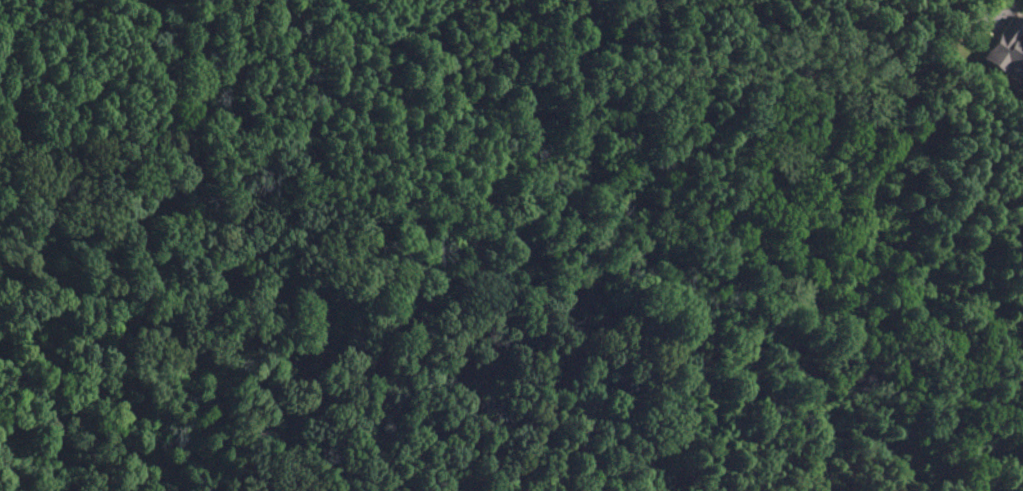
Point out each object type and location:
building: (1002, 42)

